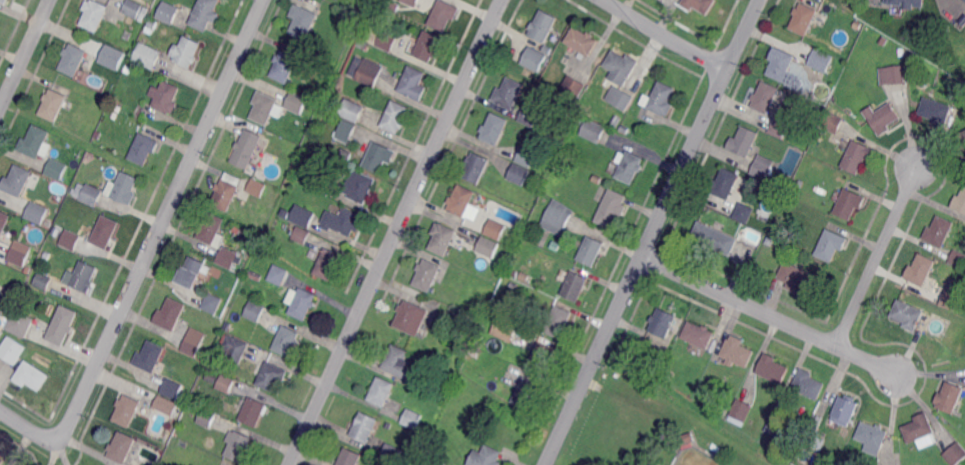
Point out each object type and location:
building: (964, 0)
building: (5, 1)
building: (411, 2)
building: (905, 4)
building: (393, 5)
building: (700, 5)
building: (133, 8)
building: (169, 12)
building: (94, 14)
building: (206, 14)
building: (443, 14)
building: (804, 20)
building: (154, 23)
building: (301, 23)
building: (543, 26)
road: (666, 36)
building: (383, 39)
building: (582, 42)
building: (361, 46)
building: (427, 47)
building: (186, 52)
building: (902, 52)
road: (25, 54)
building: (111, 55)
building: (148, 55)
building: (73, 59)
building: (535, 59)
building: (820, 61)
building: (622, 65)
building: (121, 67)
building: (282, 68)
building: (784, 69)
building: (128, 70)
building: (370, 74)
building: (894, 76)
building: (413, 85)
building: (573, 87)
building: (509, 93)
building: (166, 96)
building: (620, 98)
building: (766, 99)
building: (660, 101)
building: (297, 103)
building: (53, 104)
building: (265, 108)
building: (352, 111)
building: (936, 114)
building: (529, 116)
building: (395, 119)
building: (882, 119)
building: (615, 122)
building: (834, 122)
building: (779, 127)
building: (804, 127)
building: (624, 129)
building: (492, 130)
building: (347, 131)
building: (593, 131)
building: (99, 134)
building: (744, 141)
building: (36, 142)
building: (962, 144)
building: (143, 149)
building: (247, 149)
building: (345, 157)
building: (527, 157)
building: (856, 158)
building: (376, 159)
building: (57, 168)
building: (476, 169)
building: (630, 169)
building: (764, 169)
building: (519, 175)
building: (17, 180)
building: (538, 180)
building: (756, 182)
building: (324, 184)
building: (724, 184)
building: (800, 184)
building: (124, 187)
building: (361, 187)
building: (256, 188)
building: (227, 190)
building: (274, 190)
building: (87, 192)
building: (461, 200)
building: (72, 202)
building: (960, 204)
building: (848, 206)
building: (611, 210)
building: (36, 213)
building: (286, 213)
building: (742, 214)
building: (303, 216)
building: (558, 217)
road: (163, 221)
building: (4, 222)
building: (343, 222)
building: (496, 229)
building: (212, 230)
building: (104, 231)
road: (396, 232)
road: (653, 232)
building: (938, 233)
building: (302, 234)
building: (70, 239)
building: (442, 239)
building: (715, 241)
building: (770, 243)
building: (488, 246)
building: (830, 246)
building: (21, 253)
building: (590, 253)
road: (877, 256)
building: (227, 259)
building: (958, 260)
building: (328, 265)
building: (192, 271)
building: (921, 271)
building: (517, 274)
building: (255, 275)
building: (427, 275)
building: (277, 276)
building: (82, 277)
building: (43, 280)
building: (800, 282)
building: (575, 289)
building: (907, 299)
building: (951, 301)
building: (213, 302)
building: (6, 304)
building: (302, 306)
building: (255, 311)
building: (170, 314)
road: (769, 314)
building: (908, 317)
building: (411, 318)
building: (462, 318)
building: (557, 323)
building: (20, 324)
building: (63, 324)
building: (663, 325)
building: (440, 327)
building: (503, 330)
building: (1, 333)
building: (698, 335)
building: (194, 341)
building: (286, 341)
building: (236, 348)
building: (12, 350)
building: (737, 354)
building: (150, 357)
building: (540, 360)
building: (401, 366)
building: (660, 371)
building: (771, 371)
building: (31, 376)
building: (272, 376)
building: (671, 377)
building: (444, 379)
building: (226, 383)
building: (807, 386)
building: (172, 388)
building: (380, 393)
building: (524, 393)
building: (950, 400)
building: (245, 401)
building: (166, 405)
building: (127, 410)
building: (741, 411)
building: (845, 411)
building: (253, 412)
building: (721, 414)
building: (207, 417)
building: (410, 421)
building: (816, 424)
building: (388, 425)
road: (26, 427)
building: (777, 427)
building: (919, 429)
building: (362, 430)
building: (872, 439)
building: (687, 441)
building: (818, 443)
building: (238, 444)
building: (121, 448)
building: (391, 454)
building: (956, 455)
building: (485, 457)
park: (697, 457)
building: (348, 459)
building: (2, 460)
building: (444, 462)

